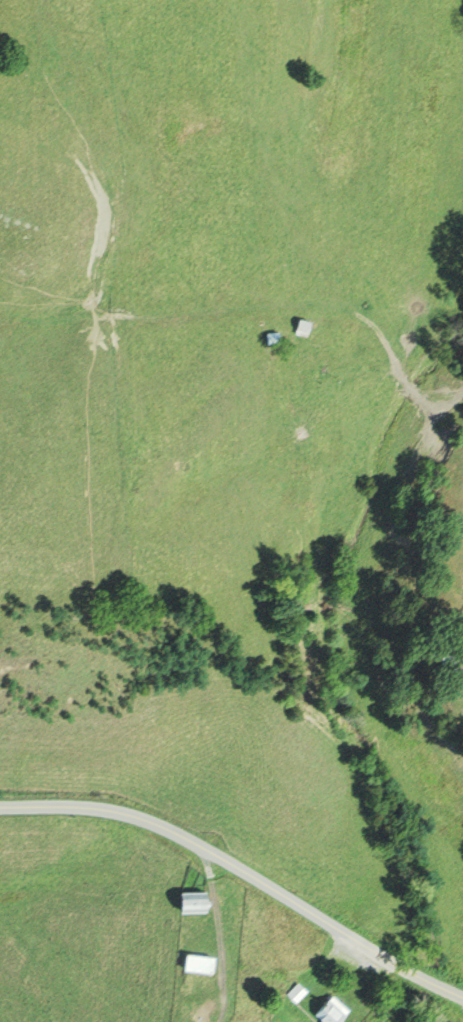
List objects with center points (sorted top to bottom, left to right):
building: (302, 327)
building: (277, 338)
road: (405, 374)
road: (224, 864)
building: (193, 902)
road: (217, 937)
building: (199, 963)
road: (446, 990)
building: (296, 992)
building: (332, 1012)

